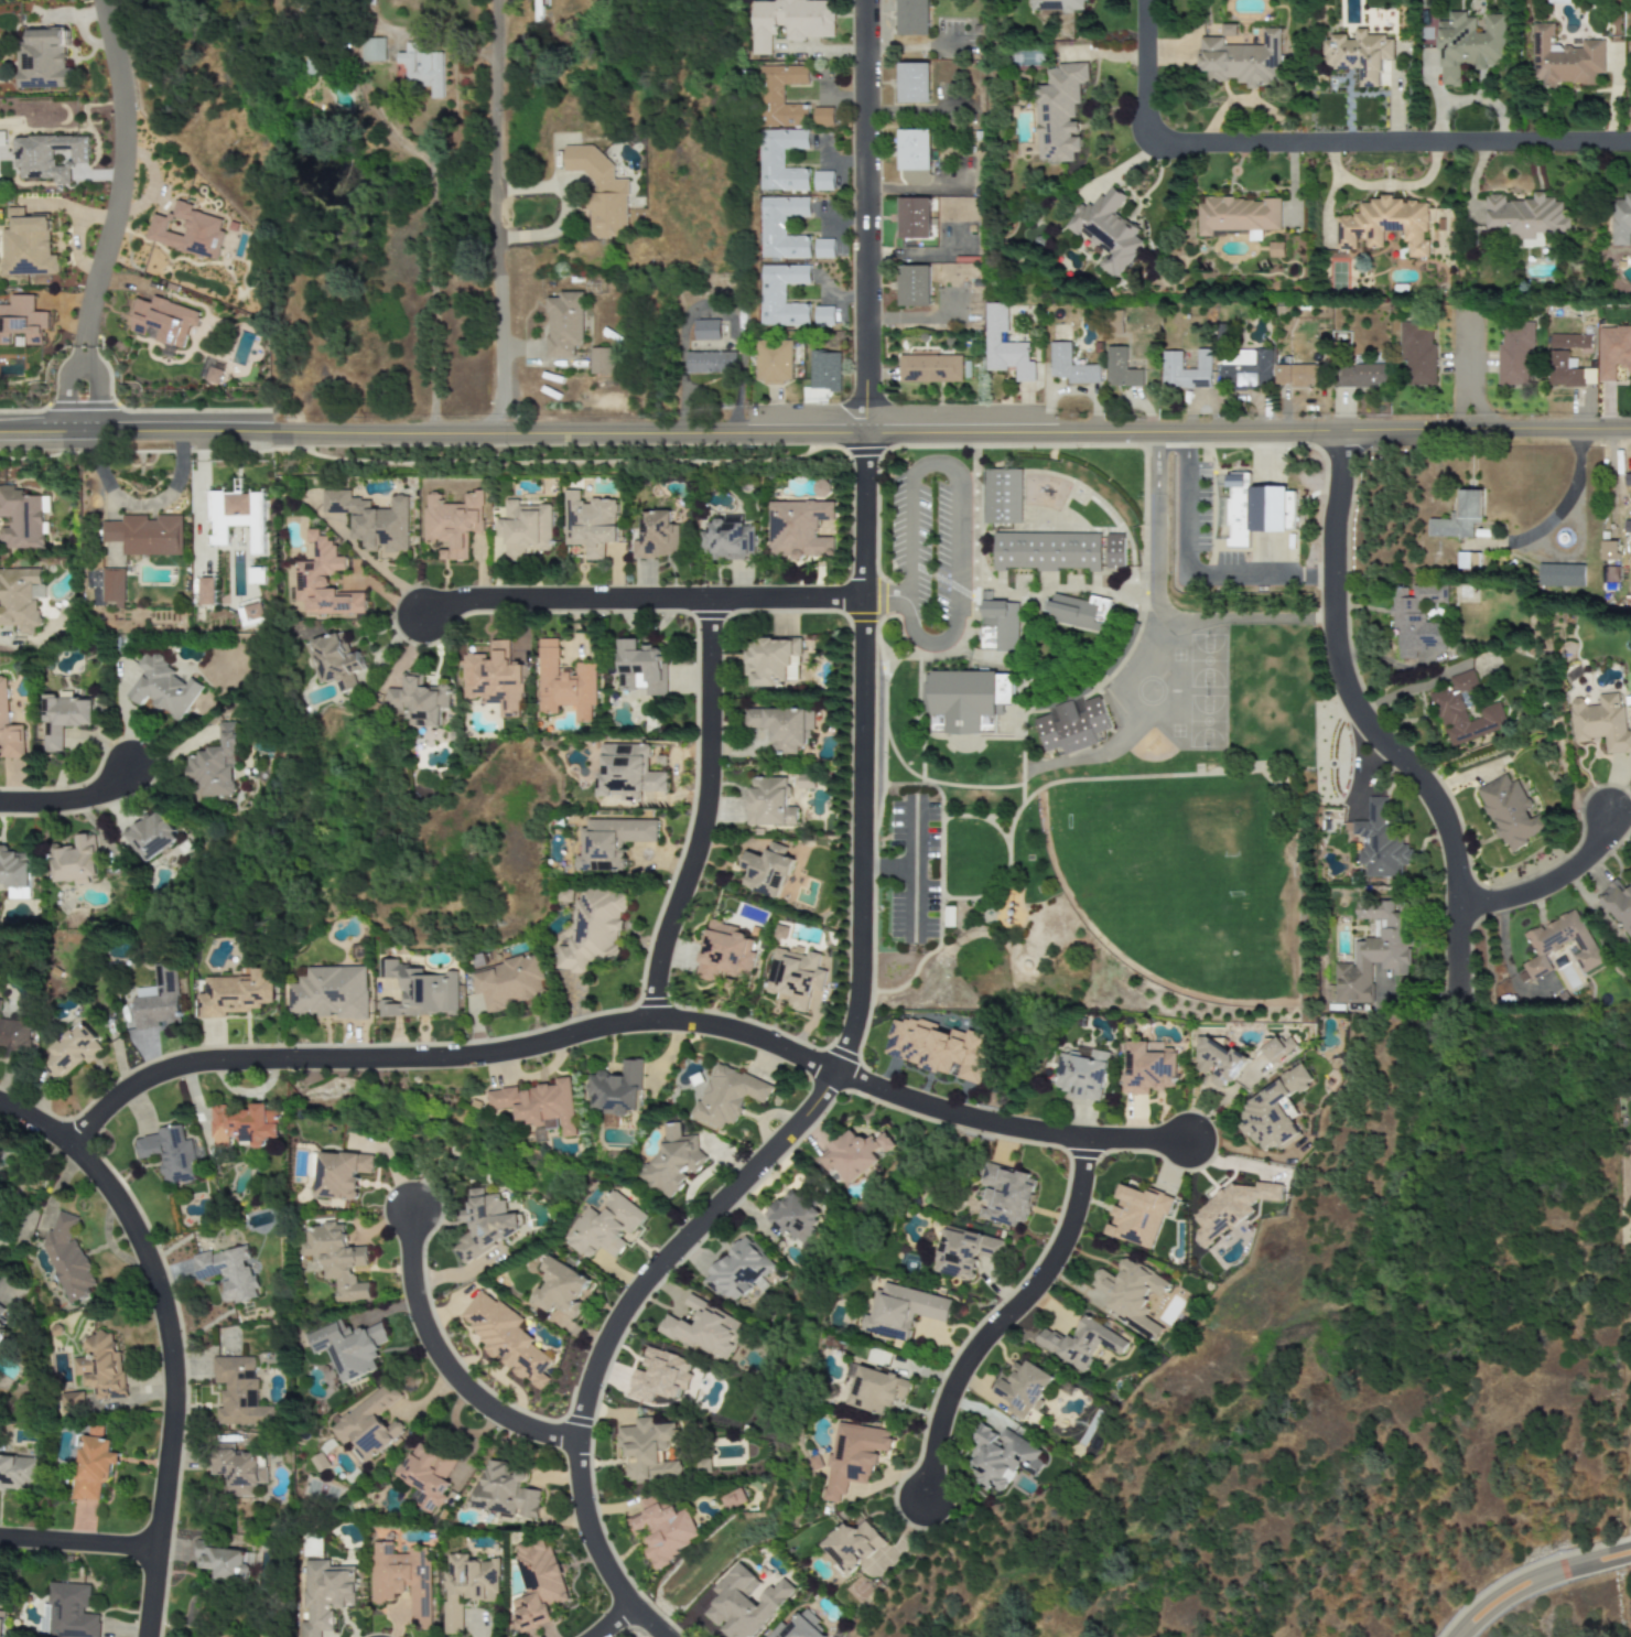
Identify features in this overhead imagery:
building: (1558, 1)
building: (1057, 6)
building: (912, 18)
building: (788, 21)
building: (1228, 30)
road: (439, 41)
building: (1468, 45)
road: (906, 46)
building: (372, 50)
building: (1358, 55)
building: (1564, 60)
building: (42, 61)
building: (1241, 61)
building: (422, 68)
building: (912, 83)
building: (780, 96)
road: (911, 112)
building: (1058, 112)
building: (822, 117)
building: (0, 139)
road: (1319, 146)
building: (914, 150)
building: (47, 157)
building: (781, 160)
building: (822, 181)
road: (428, 189)
building: (600, 192)
road: (561, 215)
road: (116, 216)
building: (1239, 216)
road: (496, 217)
road: (862, 217)
building: (912, 218)
building: (1526, 218)
road: (839, 222)
building: (1620, 222)
building: (1384, 225)
building: (781, 228)
building: (1106, 230)
building: (186, 231)
building: (26, 246)
building: (822, 249)
road: (918, 254)
building: (914, 286)
building: (780, 295)
road: (834, 297)
road: (706, 305)
building: (822, 316)
road: (921, 320)
building: (162, 321)
building: (21, 322)
building: (563, 324)
building: (704, 330)
building: (1568, 341)
building: (1003, 345)
building: (1613, 351)
building: (1416, 353)
building: (1513, 354)
building: (601, 360)
building: (773, 362)
building: (710, 363)
building: (1070, 366)
building: (1246, 367)
building: (929, 368)
building: (1120, 369)
building: (823, 370)
building: (1185, 370)
road: (1463, 373)
building: (213, 375)
building: (1297, 376)
building: (1361, 376)
road: (815, 434)
road: (932, 463)
building: (1628, 483)
building: (1002, 496)
road: (1566, 499)
road: (138, 507)
building: (1255, 509)
building: (1458, 516)
building: (235, 517)
building: (20, 518)
building: (371, 521)
building: (451, 524)
building: (587, 524)
building: (1627, 527)
building: (523, 528)
building: (798, 529)
building: (144, 535)
building: (656, 536)
building: (726, 539)
building: (1113, 550)
building: (1046, 551)
building: (1609, 551)
road: (906, 552)
road: (954, 552)
road: (1190, 572)
building: (1559, 575)
building: (323, 581)
building: (112, 586)
building: (206, 591)
building: (18, 597)
road: (886, 599)
road: (635, 600)
road: (1158, 606)
building: (1079, 612)
building: (250, 614)
building: (1416, 621)
building: (998, 626)
road: (930, 645)
building: (333, 661)
building: (771, 663)
building: (640, 667)
building: (493, 678)
building: (563, 685)
building: (162, 687)
building: (964, 698)
building: (418, 701)
building: (1465, 711)
building: (62, 719)
building: (1599, 723)
building: (938, 724)
building: (1072, 725)
building: (780, 726)
road: (1365, 729)
building: (8, 730)
building: (213, 766)
building: (627, 772)
building: (803, 780)
road: (73, 799)
building: (768, 803)
building: (1509, 812)
road: (701, 814)
building: (150, 836)
building: (1379, 841)
building: (611, 842)
building: (73, 860)
building: (13, 868)
road: (888, 869)
building: (765, 870)
road: (912, 870)
road: (1551, 880)
building: (18, 893)
building: (1619, 905)
building: (592, 929)
building: (1559, 944)
building: (725, 952)
building: (1372, 952)
building: (795, 977)
building: (508, 982)
building: (418, 991)
building: (330, 992)
building: (235, 993)
building: (156, 1000)
road: (568, 1034)
building: (14, 1036)
building: (937, 1047)
building: (1275, 1048)
building: (72, 1052)
building: (1217, 1062)
building: (1147, 1067)
building: (1079, 1071)
road: (821, 1087)
building: (615, 1089)
building: (726, 1096)
building: (537, 1105)
building: (1274, 1111)
building: (241, 1124)
road: (1137, 1140)
building: (168, 1153)
building: (853, 1154)
building: (671, 1161)
building: (336, 1173)
building: (1004, 1195)
building: (1229, 1209)
building: (792, 1215)
building: (1137, 1215)
building: (483, 1225)
building: (602, 1227)
building: (962, 1251)
building: (66, 1258)
building: (335, 1259)
building: (736, 1270)
building: (227, 1273)
building: (560, 1289)
building: (1130, 1293)
building: (900, 1311)
building: (3, 1315)
road: (994, 1325)
building: (704, 1328)
road: (164, 1338)
building: (505, 1338)
building: (1080, 1343)
building: (349, 1349)
road: (436, 1357)
building: (659, 1377)
building: (1022, 1388)
building: (876, 1390)
building: (238, 1392)
building: (368, 1425)
building: (647, 1450)
building: (852, 1456)
building: (1001, 1457)
building: (318, 1463)
building: (702, 1465)
building: (91, 1466)
building: (237, 1468)
building: (17, 1472)
building: (425, 1477)
building: (503, 1491)
building: (733, 1499)
building: (662, 1529)
road: (77, 1543)
building: (852, 1547)
building: (222, 1561)
building: (402, 1580)
road: (1538, 1582)
building: (536, 1583)
building: (465, 1587)
building: (324, 1595)
building: (745, 1603)
building: (69, 1612)
building: (0, 1618)
road: (608, 1622)
building: (798, 1627)

